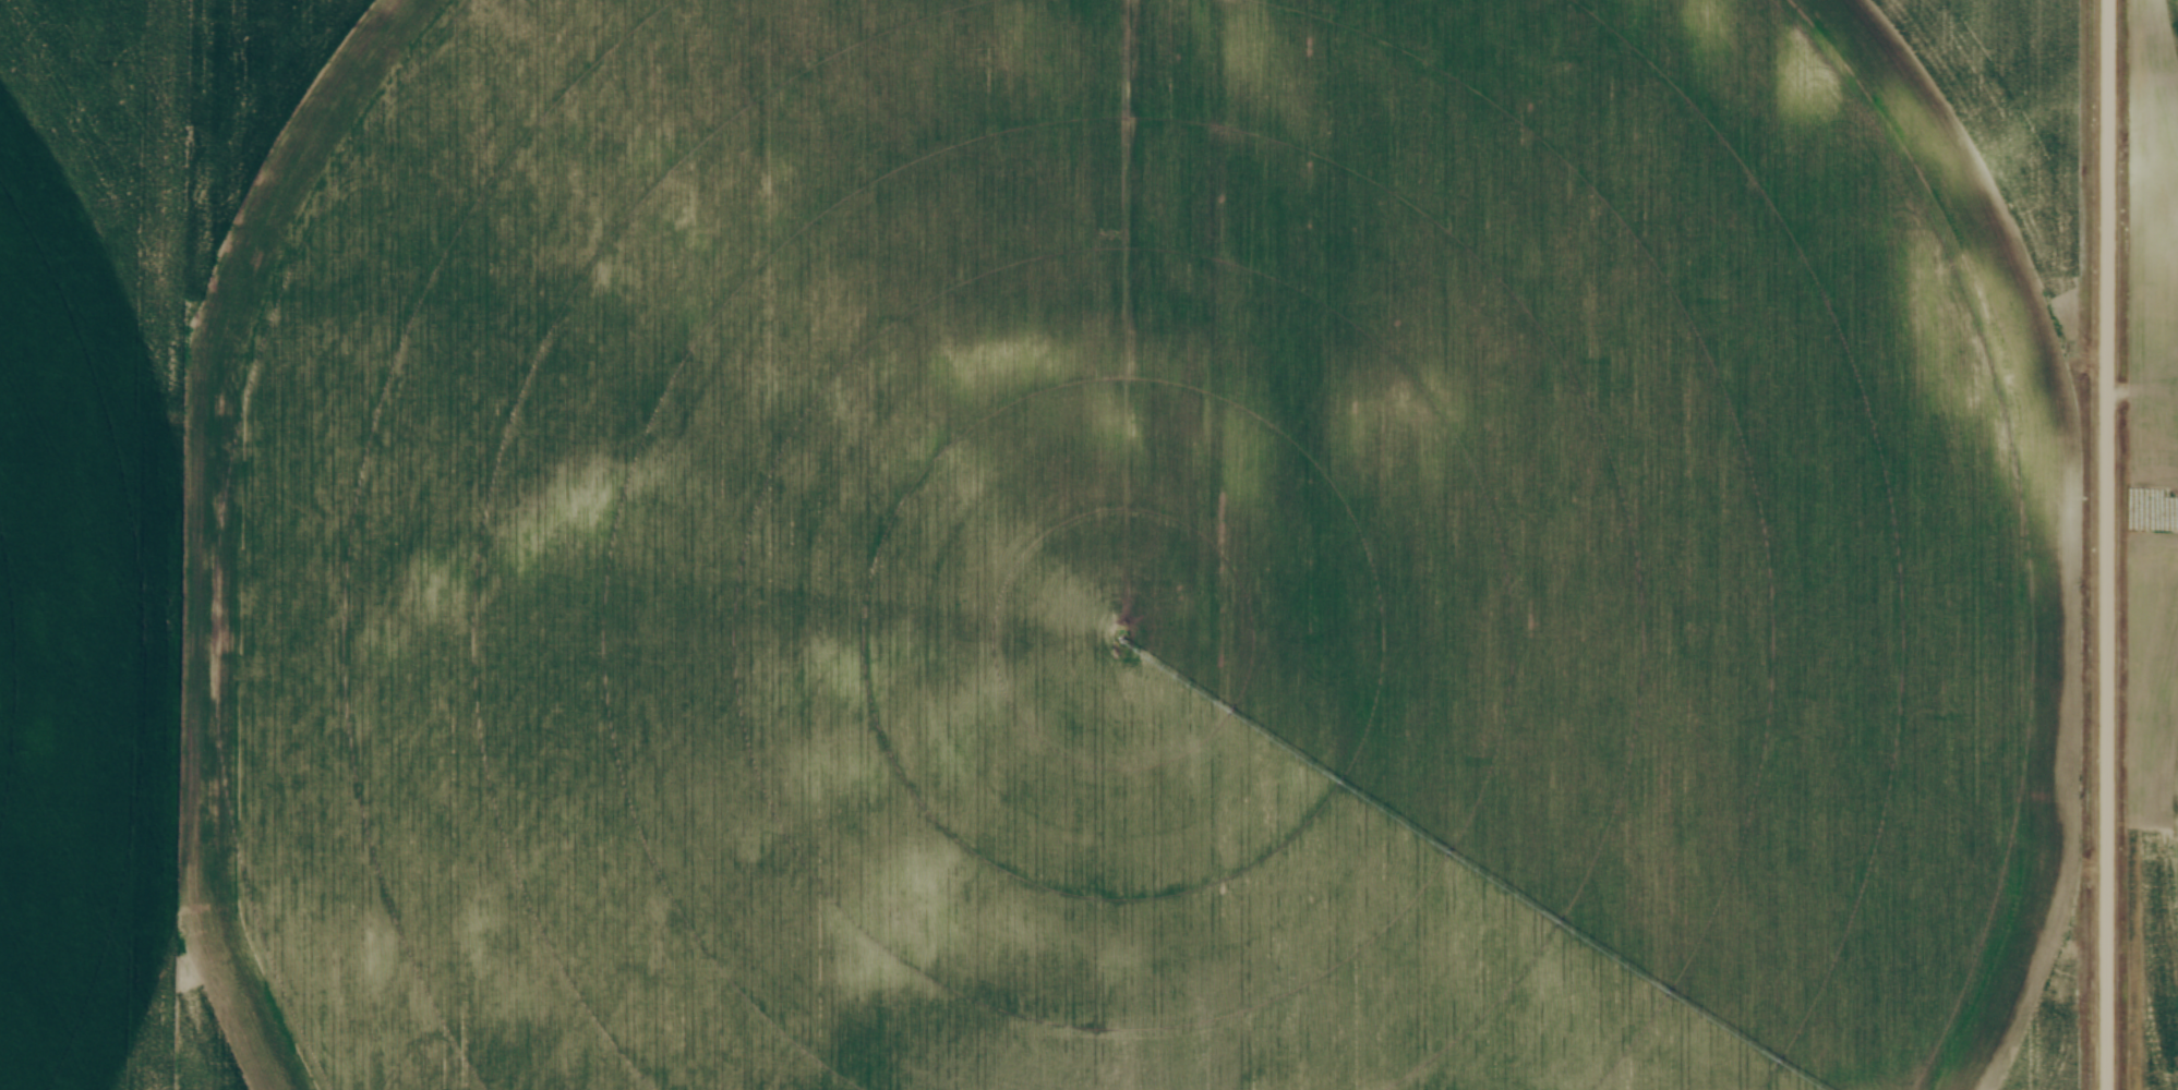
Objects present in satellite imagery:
road: (2108, 545)

